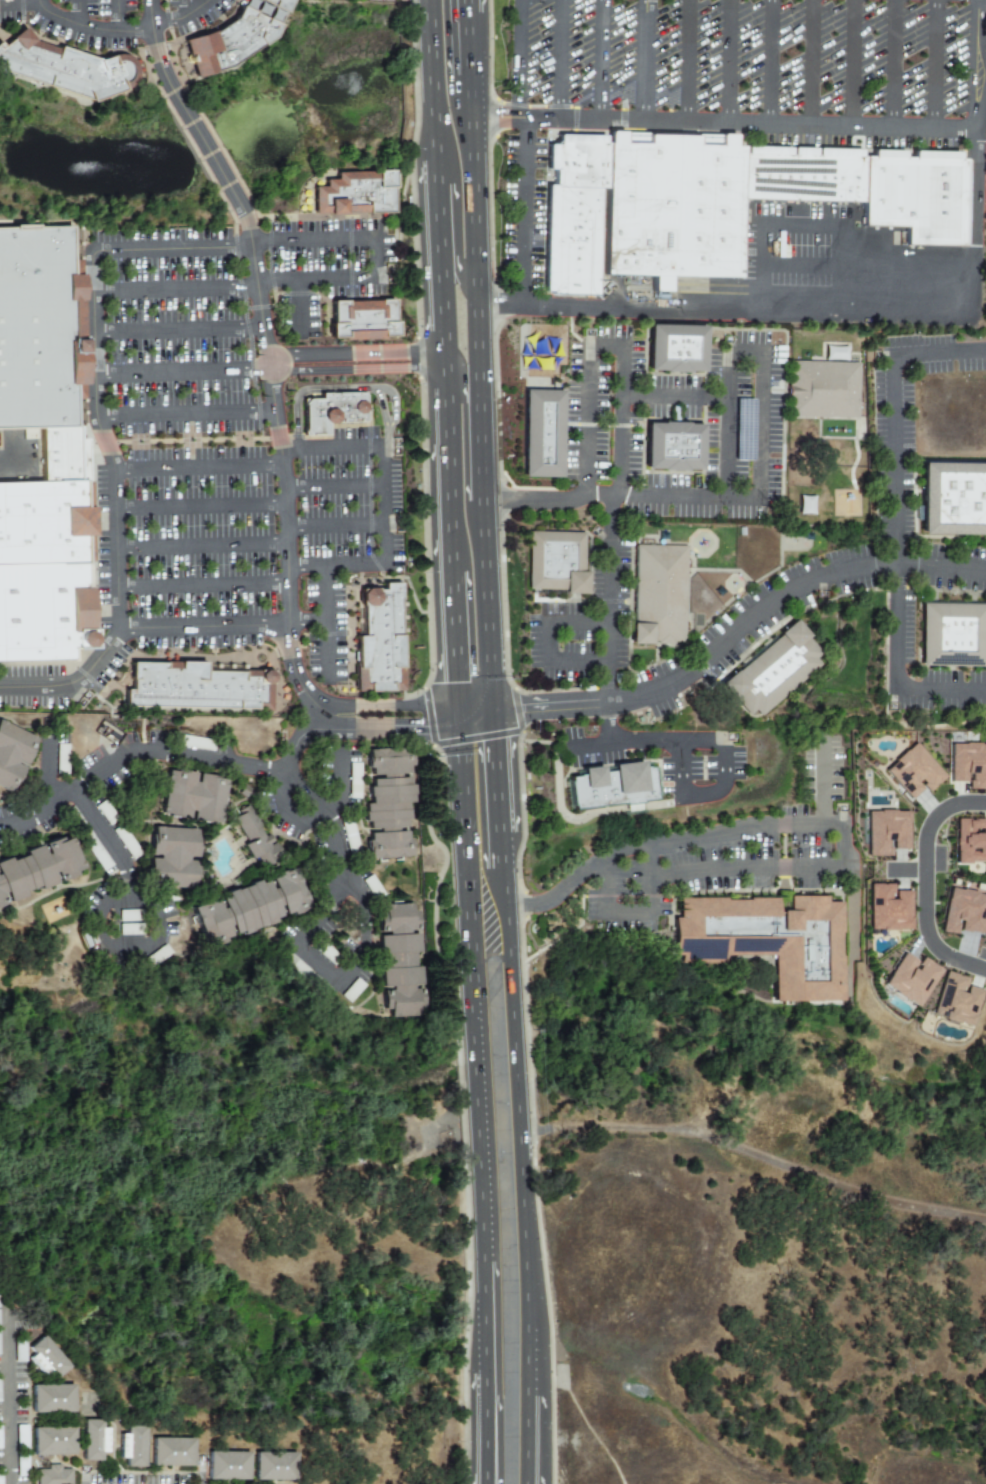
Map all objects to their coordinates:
road: (20, 5)
road: (465, 6)
road: (188, 7)
road: (81, 13)
road: (117, 16)
road: (184, 18)
parking lot: (113, 21)
road: (90, 29)
building: (234, 36)
road: (467, 43)
road: (156, 48)
road: (518, 58)
road: (559, 59)
road: (600, 60)
road: (643, 60)
road: (683, 61)
road: (726, 61)
road: (769, 62)
road: (811, 62)
road: (853, 63)
road: (893, 63)
road: (934, 64)
parking lot: (755, 69)
building: (63, 70)
road: (426, 80)
road: (491, 90)
road: (722, 122)
road: (209, 153)
road: (429, 171)
building: (866, 187)
road: (489, 194)
building: (352, 197)
road: (430, 197)
building: (671, 206)
parking lot: (523, 209)
road: (523, 212)
building: (573, 214)
building: (600, 215)
road: (801, 226)
road: (376, 256)
road: (450, 260)
road: (866, 268)
road: (437, 282)
road: (176, 288)
road: (868, 307)
road: (298, 309)
building: (362, 322)
building: (42, 331)
road: (180, 331)
road: (606, 347)
building: (674, 349)
building: (834, 353)
road: (440, 364)
road: (96, 367)
road: (271, 368)
road: (184, 374)
road: (338, 388)
road: (763, 388)
road: (477, 389)
building: (822, 390)
road: (727, 396)
road: (393, 403)
building: (335, 413)
road: (186, 414)
building: (540, 432)
building: (671, 446)
road: (464, 449)
parking lot: (226, 453)
road: (283, 464)
road: (200, 469)
road: (5, 470)
road: (442, 472)
road: (335, 488)
road: (621, 498)
building: (952, 499)
road: (385, 503)
building: (805, 505)
road: (202, 508)
road: (894, 520)
road: (336, 527)
road: (203, 547)
building: (51, 558)
building: (555, 562)
road: (203, 588)
road: (935, 590)
road: (855, 593)
building: (658, 595)
road: (781, 595)
building: (704, 610)
road: (329, 624)
road: (308, 625)
road: (203, 629)
building: (952, 635)
road: (445, 637)
road: (547, 640)
building: (383, 647)
building: (772, 671)
traffic signals: (446, 683)
road: (72, 685)
building: (202, 688)
parking lot: (944, 691)
road: (548, 700)
road: (469, 704)
road: (385, 706)
road: (448, 711)
road: (491, 713)
road: (550, 717)
traffic signals: (449, 718)
road: (326, 719)
road: (412, 728)
road: (621, 737)
road: (299, 739)
building: (195, 743)
road: (587, 743)
building: (15, 755)
road: (45, 762)
building: (968, 765)
building: (913, 772)
road: (495, 778)
road: (823, 782)
building: (611, 786)
road: (305, 789)
building: (195, 796)
building: (392, 804)
road: (320, 814)
road: (725, 831)
building: (886, 832)
building: (350, 837)
building: (88, 839)
building: (125, 841)
building: (253, 842)
building: (969, 842)
road: (498, 852)
building: (175, 857)
road: (748, 869)
building: (39, 871)
road: (348, 883)
road: (928, 885)
building: (251, 907)
building: (888, 908)
road: (631, 912)
building: (963, 912)
road: (101, 915)
building: (768, 940)
building: (402, 962)
building: (307, 975)
building: (910, 979)
road: (466, 989)
building: (352, 991)
building: (956, 1000)
road: (517, 1098)
road: (539, 1133)
road: (481, 1318)
building: (48, 1357)
road: (15, 1390)
building: (56, 1399)
road: (527, 1401)
road: (482, 1425)
building: (97, 1436)
building: (56, 1442)
building: (136, 1444)
building: (176, 1449)
building: (231, 1463)
building: (280, 1465)
building: (57, 1474)
road: (481, 1480)
road: (483, 1480)
road: (529, 1480)
road: (531, 1480)

